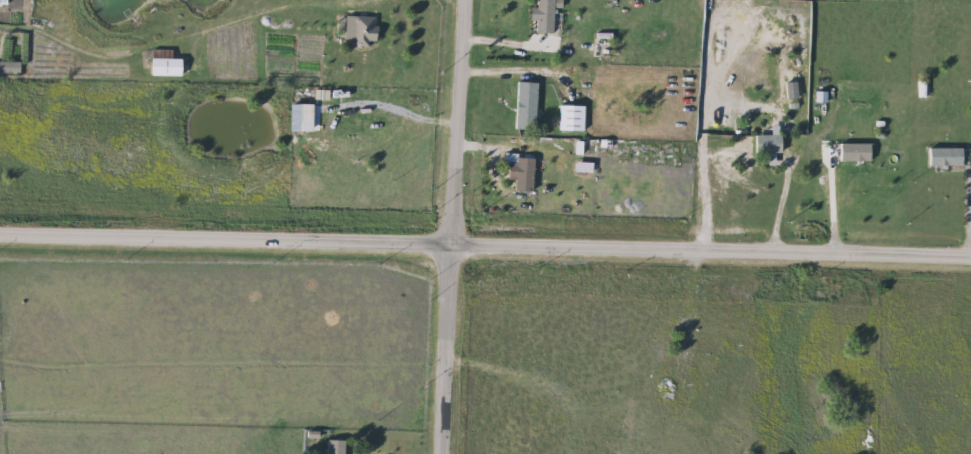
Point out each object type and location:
road: (370, 0)
building: (542, 17)
building: (358, 30)
road: (507, 41)
building: (602, 48)
building: (8, 67)
building: (162, 67)
building: (523, 106)
building: (569, 118)
road: (706, 122)
road: (452, 127)
building: (765, 144)
building: (851, 153)
building: (942, 157)
road: (781, 209)
road: (833, 210)
road: (485, 255)
road: (440, 354)
building: (333, 447)

